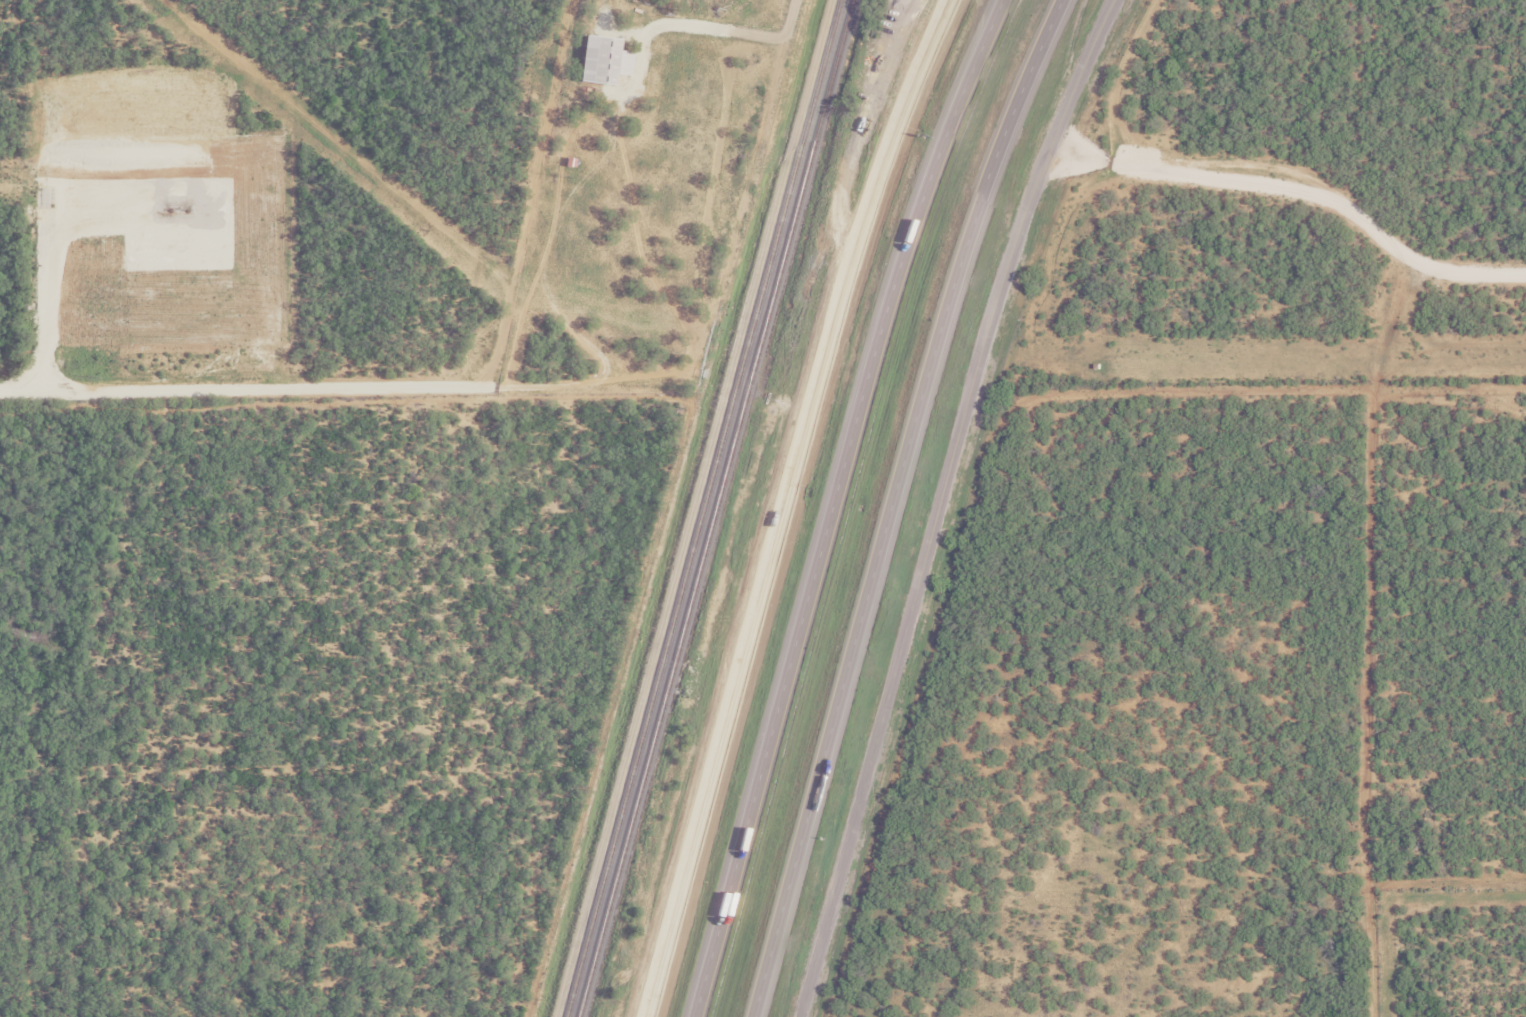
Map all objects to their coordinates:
building: (600, 59)
road: (1302, 177)
road: (891, 502)
road: (940, 502)
road: (782, 503)
road: (832, 503)
railway: (714, 508)

